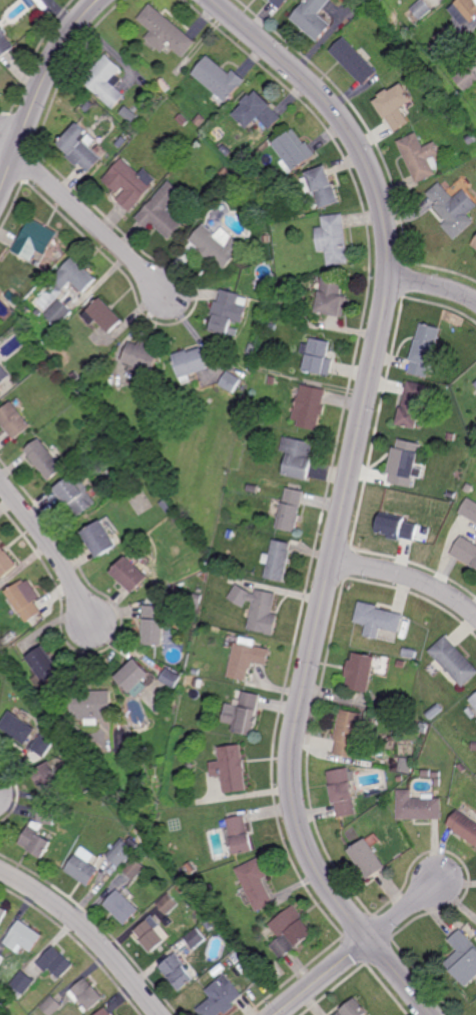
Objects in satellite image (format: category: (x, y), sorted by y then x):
building: (279, 3)
building: (422, 9)
building: (464, 10)
building: (312, 17)
building: (166, 31)
building: (446, 39)
building: (5, 42)
building: (434, 48)
building: (354, 61)
building: (460, 69)
building: (467, 78)
building: (106, 80)
building: (219, 80)
building: (164, 85)
road: (41, 91)
building: (433, 95)
building: (394, 106)
building: (257, 111)
building: (183, 119)
building: (201, 119)
building: (471, 138)
road: (8, 143)
building: (81, 147)
building: (294, 150)
building: (420, 156)
building: (225, 172)
building: (130, 183)
building: (321, 186)
building: (454, 209)
building: (163, 211)
road: (90, 224)
building: (268, 239)
building: (333, 240)
building: (33, 241)
building: (474, 244)
building: (218, 245)
building: (75, 277)
road: (433, 286)
building: (13, 297)
building: (331, 298)
building: (25, 309)
building: (229, 312)
building: (39, 313)
building: (58, 314)
building: (104, 316)
building: (295, 321)
building: (29, 336)
building: (251, 349)
building: (423, 350)
building: (316, 357)
building: (142, 360)
building: (191, 364)
building: (3, 375)
building: (75, 376)
building: (233, 378)
building: (271, 380)
building: (70, 383)
building: (475, 384)
building: (0, 389)
building: (474, 392)
building: (412, 406)
building: (309, 407)
building: (14, 421)
building: (451, 437)
building: (127, 443)
building: (297, 458)
building: (44, 460)
building: (405, 464)
building: (449, 494)
road: (346, 495)
building: (75, 496)
building: (167, 506)
building: (469, 509)
building: (289, 510)
building: (175, 517)
building: (396, 527)
building: (230, 533)
building: (101, 536)
road: (53, 548)
building: (465, 551)
building: (7, 560)
building: (277, 560)
building: (218, 564)
building: (132, 573)
road: (408, 577)
building: (25, 599)
building: (196, 601)
building: (256, 608)
building: (377, 619)
building: (156, 624)
building: (409, 653)
building: (248, 658)
building: (454, 660)
building: (48, 663)
building: (401, 663)
building: (360, 671)
building: (196, 672)
building: (138, 676)
building: (173, 678)
building: (199, 683)
building: (474, 699)
building: (95, 705)
building: (174, 710)
building: (435, 712)
building: (471, 712)
building: (245, 714)
building: (20, 727)
building: (423, 727)
building: (348, 734)
building: (46, 745)
building: (474, 746)
building: (192, 765)
building: (406, 768)
building: (462, 768)
building: (233, 769)
building: (427, 773)
building: (436, 774)
building: (391, 777)
building: (50, 778)
building: (438, 782)
building: (83, 786)
building: (342, 792)
building: (419, 806)
building: (49, 814)
building: (464, 826)
building: (243, 835)
building: (37, 840)
building: (125, 851)
building: (368, 856)
building: (84, 867)
building: (137, 868)
building: (256, 884)
building: (208, 888)
building: (182, 889)
building: (170, 904)
building: (124, 906)
road: (403, 910)
building: (3, 915)
building: (211, 925)
building: (291, 932)
road: (88, 933)
building: (153, 935)
building: (24, 937)
building: (198, 938)
building: (464, 958)
building: (1, 959)
building: (162, 960)
building: (57, 964)
building: (179, 973)
road: (322, 977)
building: (23, 984)
building: (88, 995)
building: (223, 998)
building: (52, 1006)
building: (353, 1009)
building: (106, 1012)

